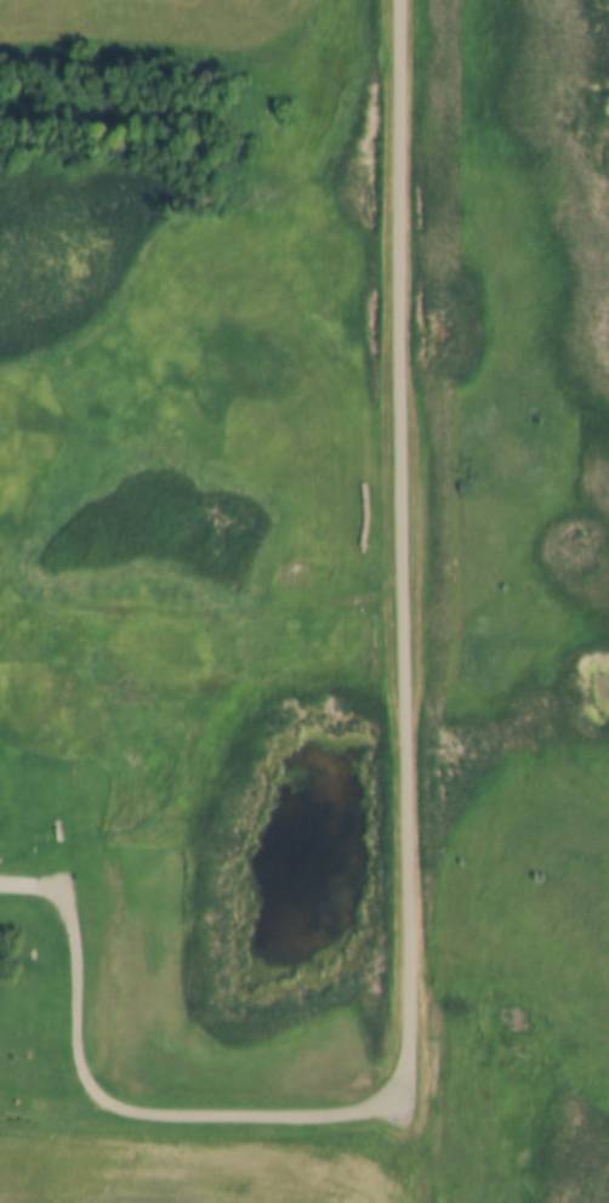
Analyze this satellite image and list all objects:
road: (406, 696)
road: (76, 974)

